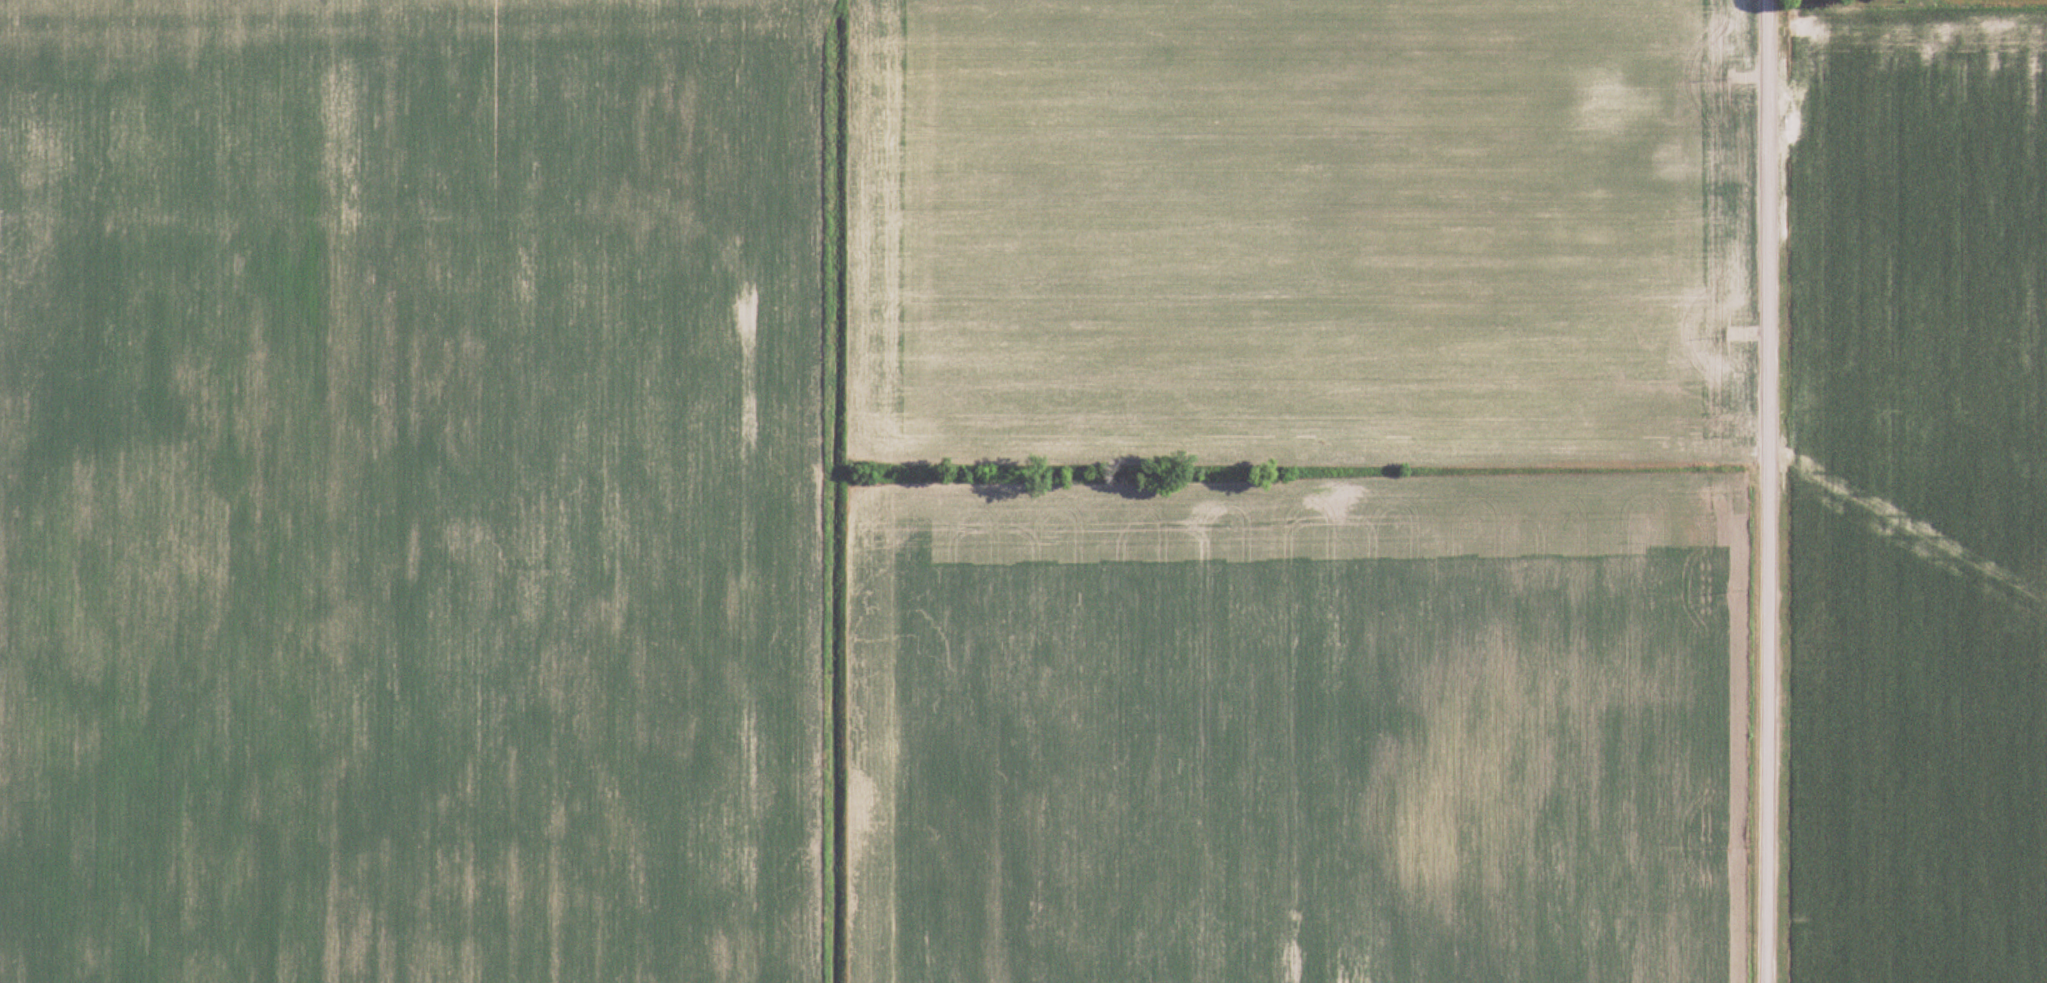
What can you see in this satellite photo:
road: (1765, 491)

